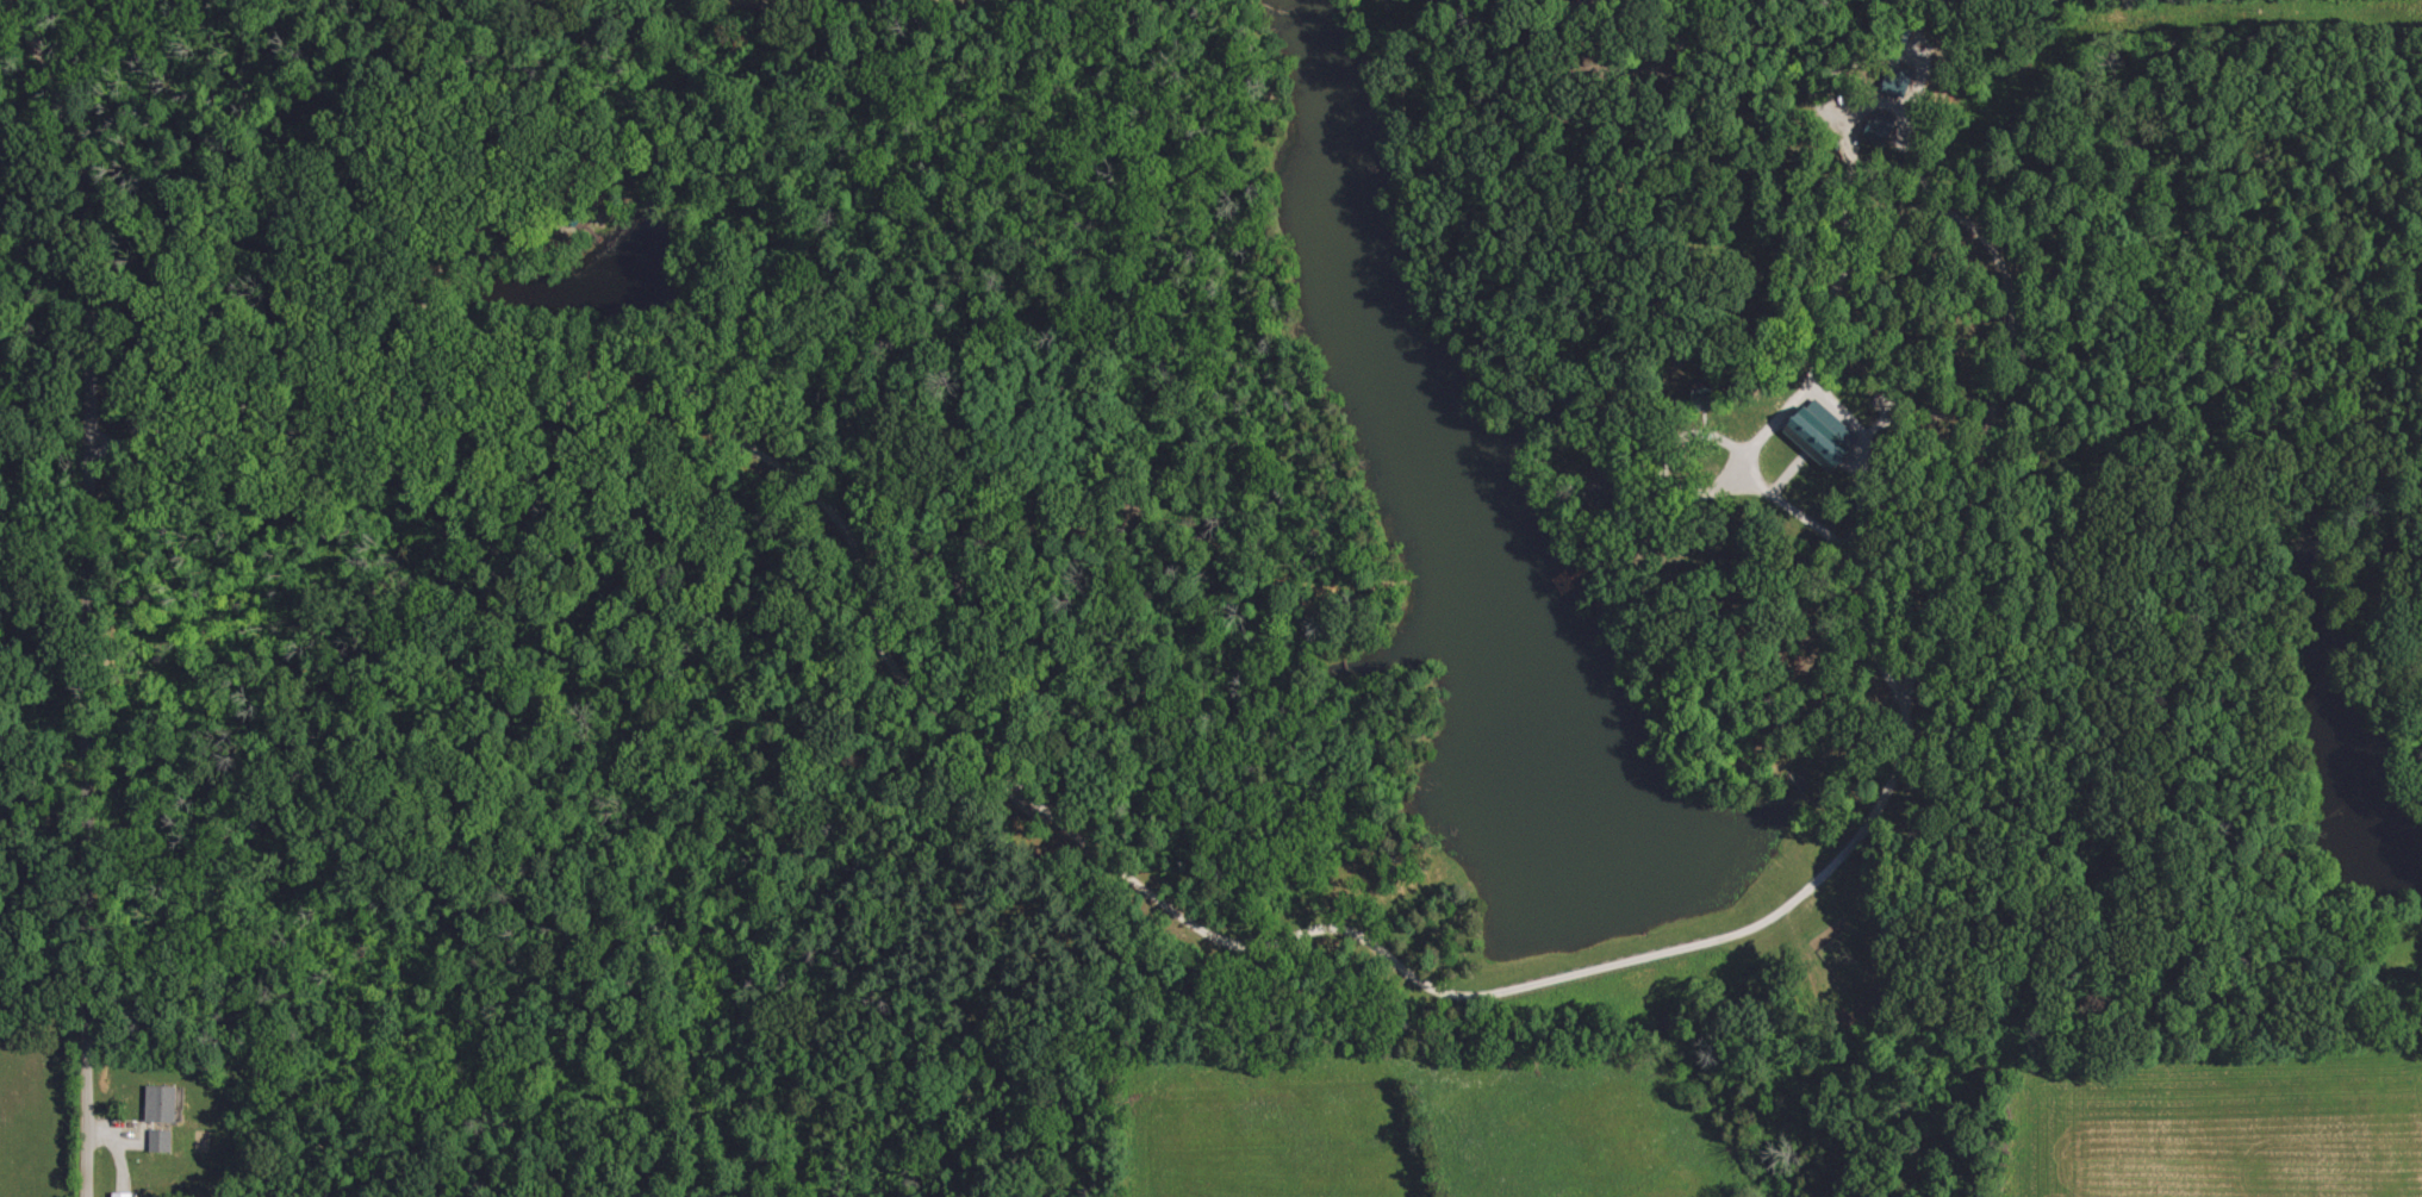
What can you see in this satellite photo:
building: (1899, 81)
building: (1884, 127)
building: (1825, 436)
road: (87, 586)
dam: (1685, 949)
road: (1576, 970)
building: (163, 1104)
building: (162, 1140)
building: (124, 1195)

